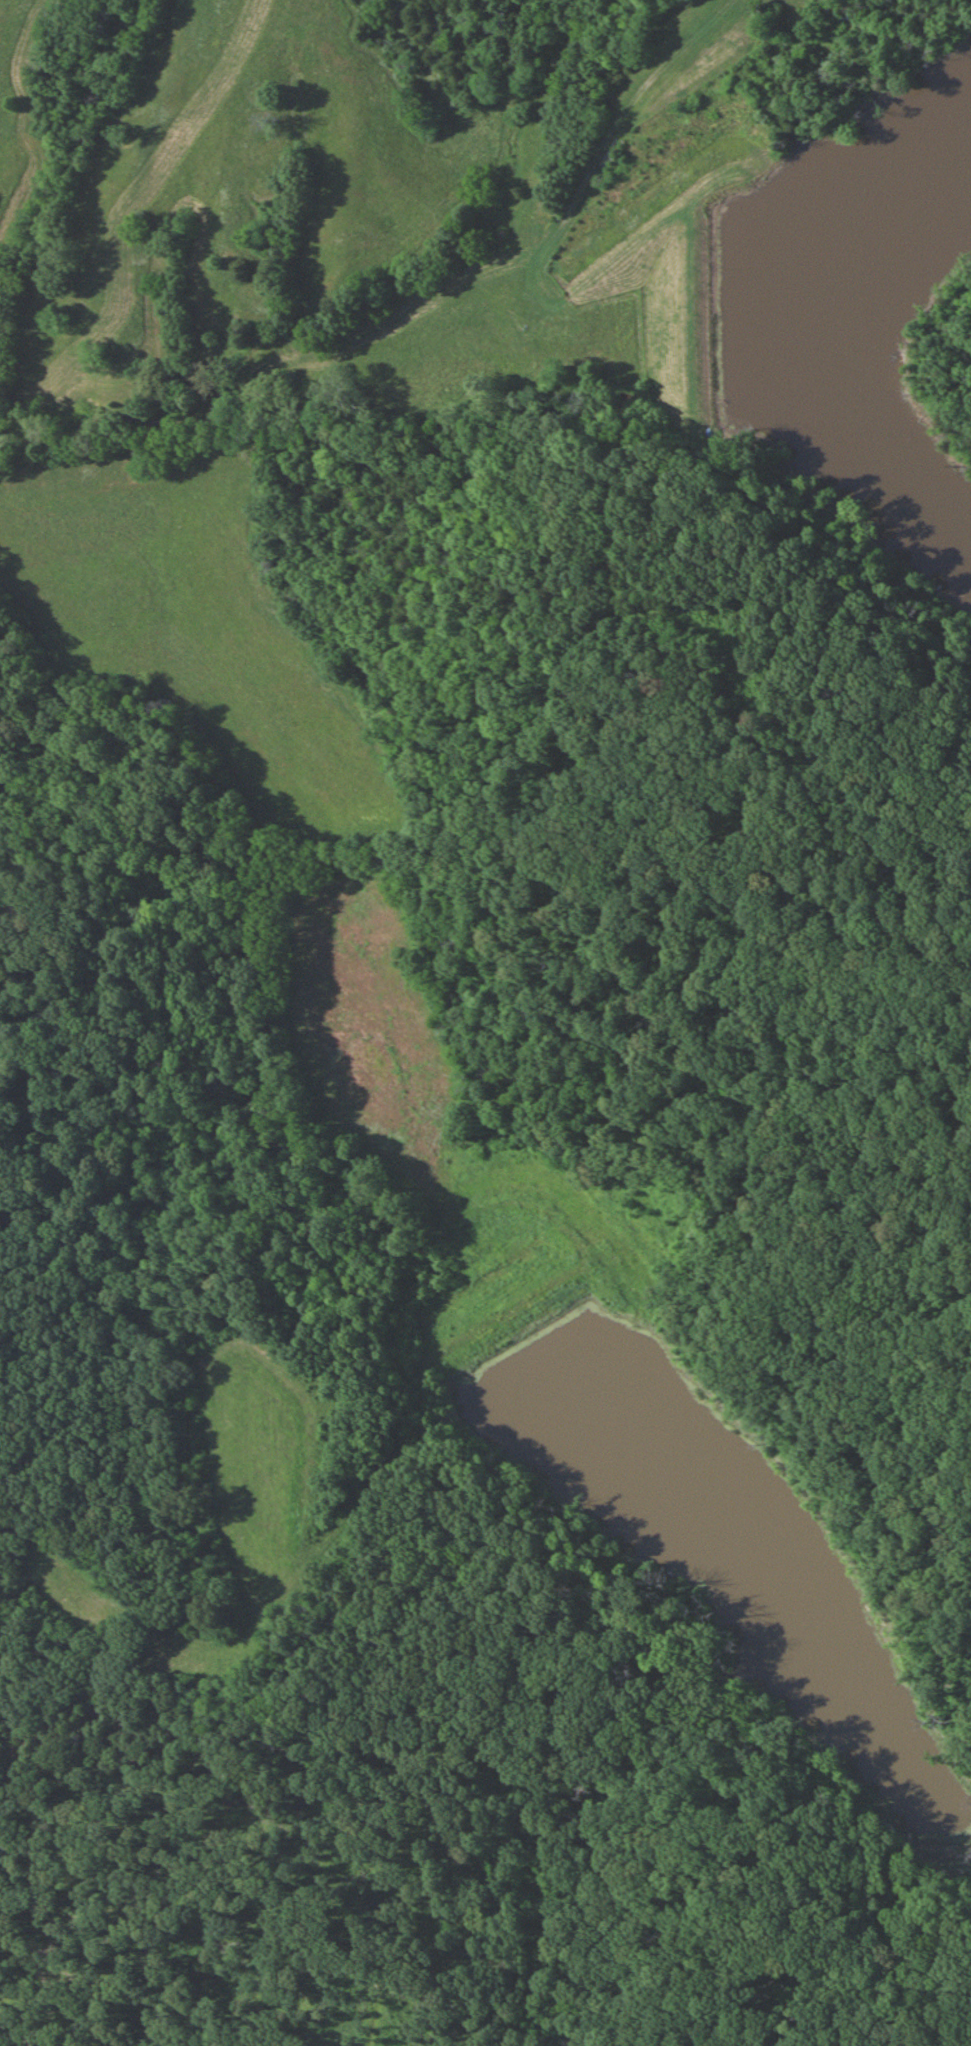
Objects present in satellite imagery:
road: (709, 1663)

